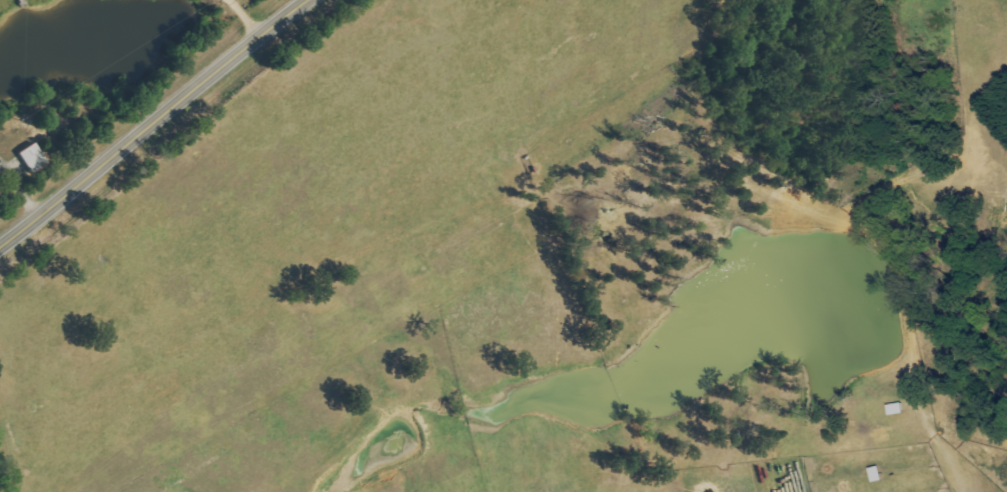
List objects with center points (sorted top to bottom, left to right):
road: (292, 6)
road: (247, 18)
road: (157, 122)
building: (38, 158)
building: (2, 168)

